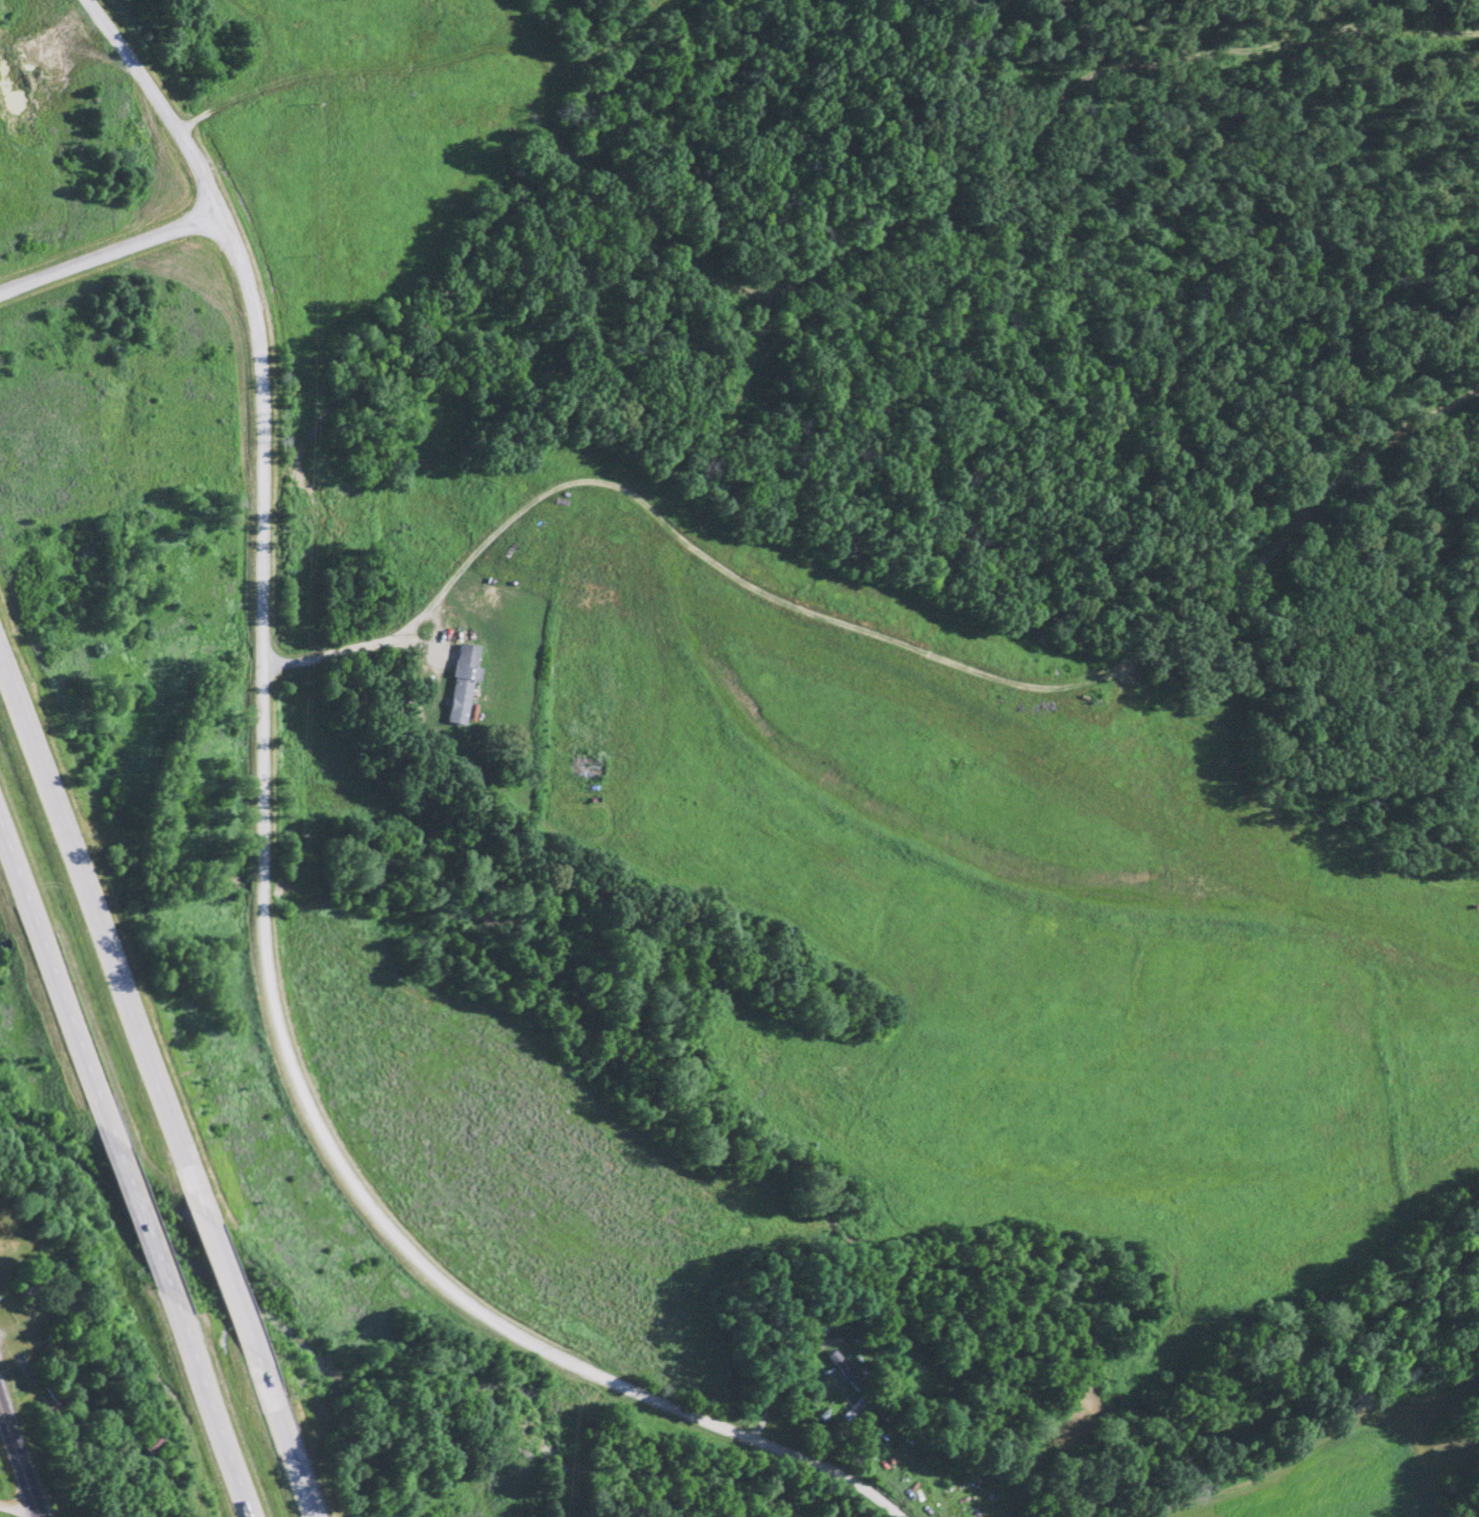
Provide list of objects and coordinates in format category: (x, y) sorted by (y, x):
road: (110, 257)
road: (264, 552)
road: (368, 649)
building: (462, 682)
road: (156, 1088)
road: (123, 1177)
building: (66, 1302)
road: (580, 1368)
building: (841, 1368)
road: (18, 1459)
road: (15, 1512)

